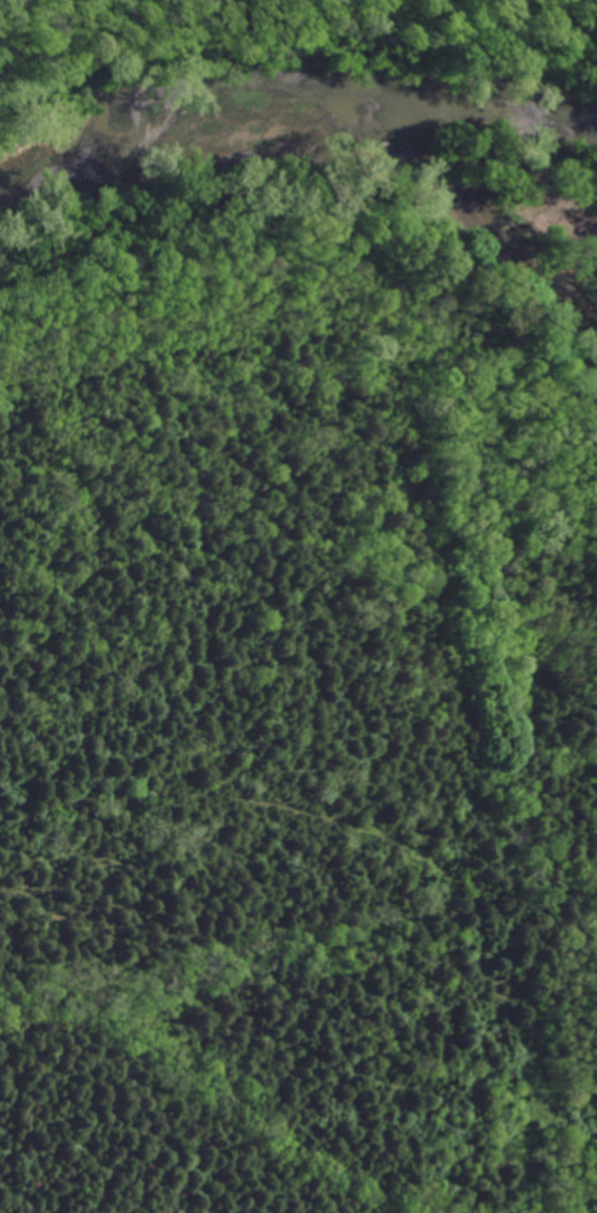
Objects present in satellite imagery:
river: (294, 109)

